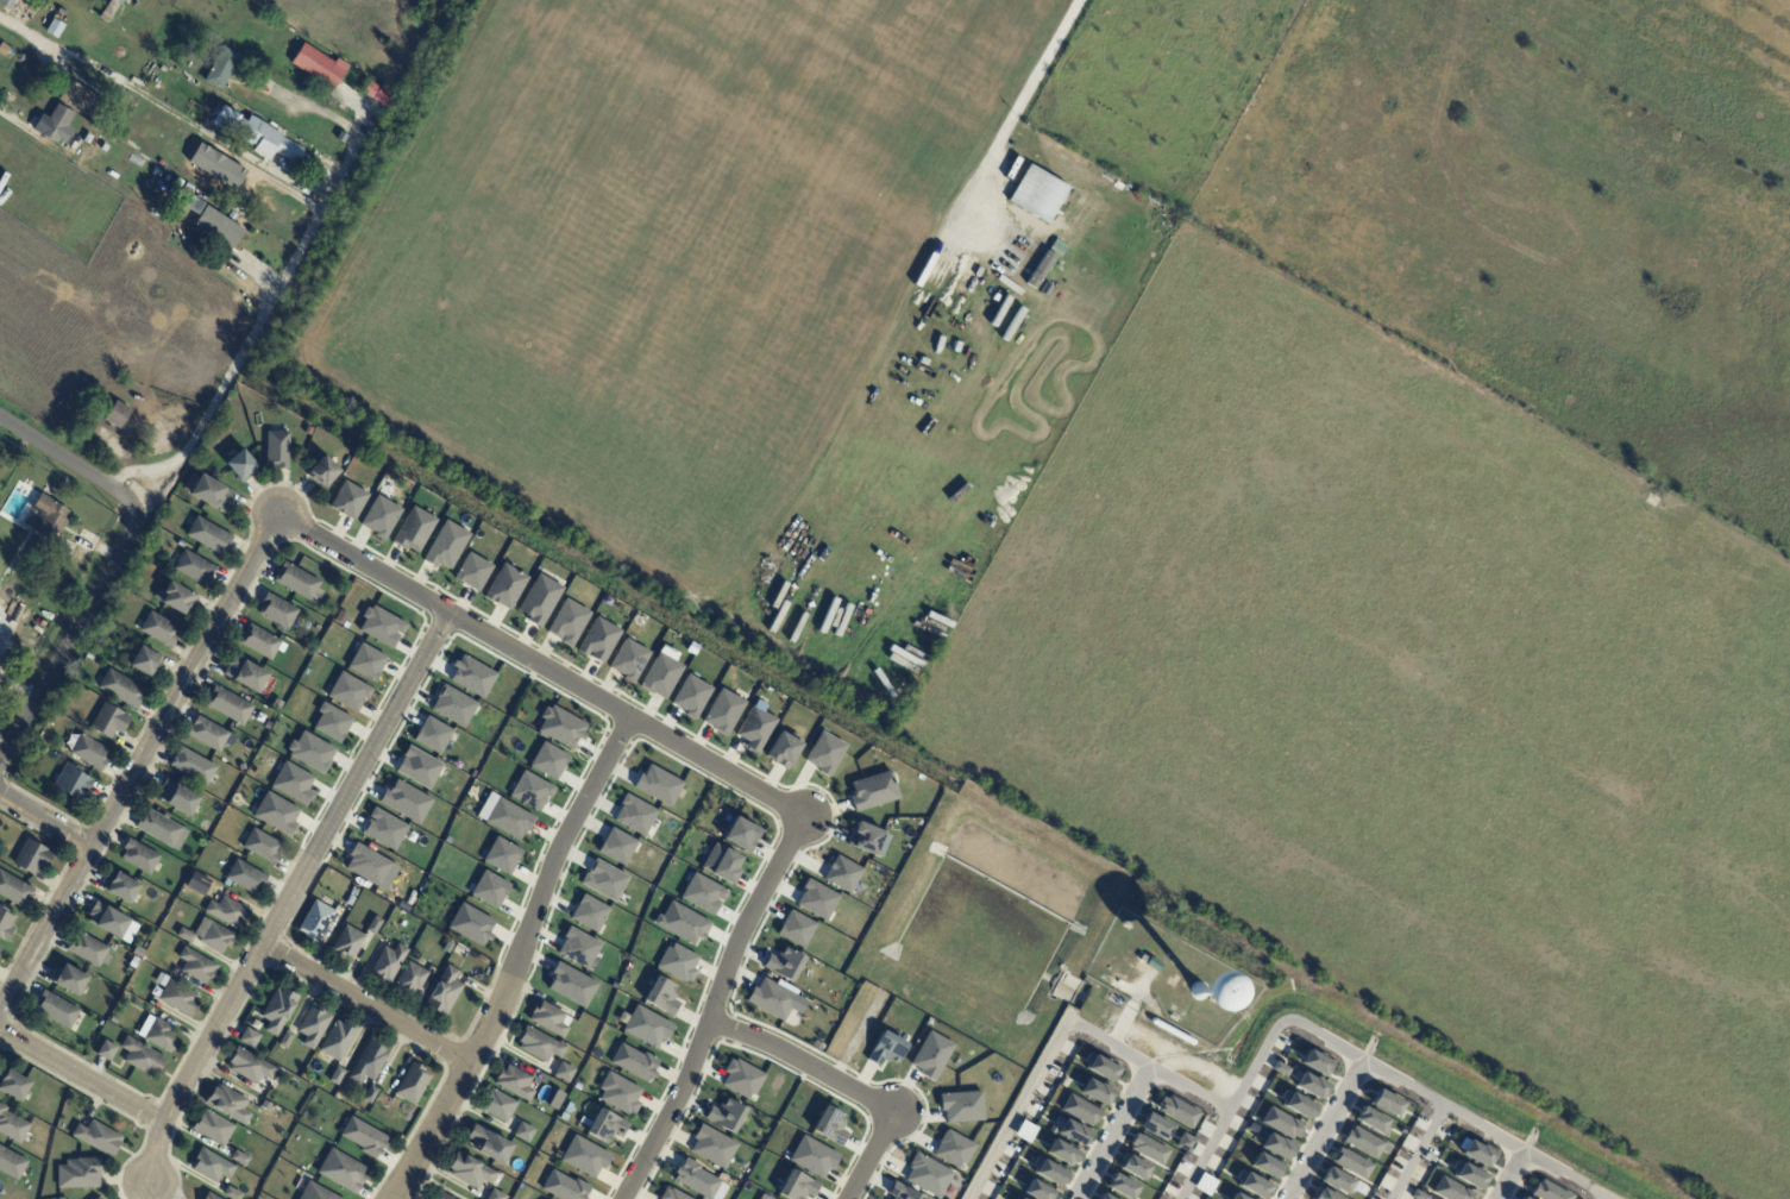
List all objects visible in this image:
building: (11, 4)
building: (111, 8)
building: (58, 25)
building: (7, 50)
building: (23, 58)
building: (322, 67)
building: (225, 68)
road: (130, 83)
building: (385, 98)
building: (86, 99)
road: (12, 119)
building: (57, 125)
building: (119, 128)
building: (258, 134)
building: (345, 136)
building: (90, 140)
building: (213, 170)
building: (235, 214)
building: (201, 215)
building: (245, 221)
building: (260, 237)
building: (1040, 269)
road: (271, 300)
building: (120, 415)
building: (306, 431)
building: (276, 447)
building: (239, 465)
building: (322, 470)
road: (143, 471)
building: (208, 492)
building: (348, 500)
building: (379, 517)
building: (52, 519)
building: (413, 529)
building: (207, 535)
building: (445, 546)
building: (536, 558)
road: (114, 561)
building: (193, 566)
building: (472, 571)
building: (294, 579)
building: (505, 586)
building: (61, 594)
building: (174, 597)
building: (539, 599)
building: (276, 609)
building: (340, 616)
building: (567, 622)
building: (381, 626)
building: (159, 628)
building: (259, 640)
building: (598, 640)
building: (628, 659)
building: (142, 660)
building: (365, 661)
road: (539, 667)
building: (245, 673)
building: (471, 676)
building: (660, 676)
building: (121, 688)
building: (348, 691)
building: (690, 696)
building: (227, 703)
building: (276, 704)
building: (452, 705)
building: (723, 711)
building: (108, 721)
building: (331, 722)
building: (560, 727)
building: (755, 729)
building: (206, 732)
building: (433, 735)
building: (783, 749)
building: (88, 751)
building: (310, 752)
building: (824, 753)
building: (548, 760)
road: (138, 761)
building: (191, 764)
building: (417, 767)
building: (71, 783)
building: (293, 783)
building: (658, 785)
building: (530, 791)
building: (873, 791)
building: (177, 796)
building: (404, 801)
building: (276, 814)
building: (635, 815)
building: (504, 816)
road: (44, 820)
building: (161, 828)
building: (383, 829)
building: (741, 834)
building: (865, 839)
building: (262, 845)
building: (616, 846)
building: (32, 855)
building: (138, 855)
building: (502, 855)
building: (721, 864)
building: (368, 865)
building: (842, 874)
building: (244, 875)
building: (603, 880)
building: (120, 887)
building: (14, 889)
building: (489, 889)
building: (352, 891)
building: (703, 893)
road: (288, 898)
building: (817, 899)
building: (347, 900)
building: (226, 911)
building: (589, 912)
building: (106, 918)
building: (316, 921)
building: (5, 922)
building: (682, 922)
building: (470, 924)
building: (373, 925)
building: (796, 929)
building: (212, 934)
building: (184, 935)
building: (347, 942)
building: (0, 947)
building: (578, 948)
building: (88, 949)
building: (137, 952)
road: (516, 959)
building: (133, 960)
building: (1150, 961)
building: (677, 962)
building: (385, 963)
building: (784, 963)
building: (196, 965)
building: (70, 978)
building: (410, 978)
building: (571, 985)
building: (444, 991)
building: (1201, 991)
building: (661, 996)
building: (177, 997)
building: (771, 999)
road: (366, 1005)
building: (277, 1007)
road: (709, 1007)
building: (55, 1009)
building: (112, 1018)
building: (548, 1018)
building: (312, 1025)
building: (645, 1025)
road: (1060, 1025)
building: (40, 1028)
building: (159, 1035)
building: (247, 1035)
building: (285, 1038)
building: (337, 1038)
building: (538, 1044)
building: (105, 1049)
building: (885, 1049)
building: (931, 1055)
building: (140, 1056)
road: (800, 1060)
building: (368, 1061)
building: (634, 1062)
building: (1315, 1063)
building: (250, 1065)
building: (1100, 1067)
building: (1280, 1069)
building: (564, 1071)
building: (335, 1074)
road: (81, 1076)
building: (741, 1078)
road: (1395, 1078)
building: (13, 1082)
building: (412, 1082)
building: (513, 1082)
building: (1311, 1085)
building: (576, 1086)
building: (1097, 1091)
building: (369, 1093)
building: (618, 1093)
building: (555, 1099)
building: (227, 1101)
building: (1386, 1103)
building: (497, 1104)
building: (1296, 1104)
building: (962, 1106)
building: (567, 1107)
building: (1080, 1110)
building: (1177, 1111)
building: (724, 1115)
building: (561, 1116)
building: (1371, 1120)
building: (1281, 1123)
building: (12, 1124)
building: (59, 1125)
building: (212, 1125)
building: (605, 1125)
building: (829, 1125)
building: (1155, 1126)
road: (1323, 1130)
building: (523, 1131)
building: (1025, 1131)
building: (1073, 1132)
road: (1111, 1134)
building: (98, 1136)
building: (363, 1136)
building: (1362, 1142)
building: (1186, 1143)
building: (491, 1145)
building: (712, 1145)
building: (1276, 1147)
building: (1148, 1148)
building: (953, 1149)
road: (1415, 1150)
building: (1061, 1151)
building: (1475, 1153)
road: (868, 1155)
road: (1200, 1155)
building: (239, 1156)
building: (584, 1156)
building: (812, 1156)
building: (11, 1163)
building: (1351, 1163)
building: (211, 1165)
building: (1265, 1166)
building: (1133, 1167)
building: (471, 1169)
building: (341, 1170)
building: (1048, 1172)
building: (78, 1173)
building: (928, 1175)
building: (1468, 1175)
road: (1507, 1175)
building: (697, 1180)
building: (1336, 1181)
building: (1252, 1184)
building: (1205, 1185)
building: (564, 1186)
building: (797, 1186)
building: (1122, 1186)
building: (1451, 1189)
building: (1038, 1191)
building: (231, 1192)
building: (315, 1192)
building: (902, 1192)
building: (1547, 1192)
building: (497, 1194)
building: (671, 1194)
building: (1321, 1194)
building: (208, 1195)
building: (1418, 1195)
building: (444, 1197)
building: (1104, 1197)
building: (1237, 1197)
building: (96, 1198)
building: (768, 1198)
building: (1020, 1198)
building: (1431, 1198)
building: (1522, 1198)

